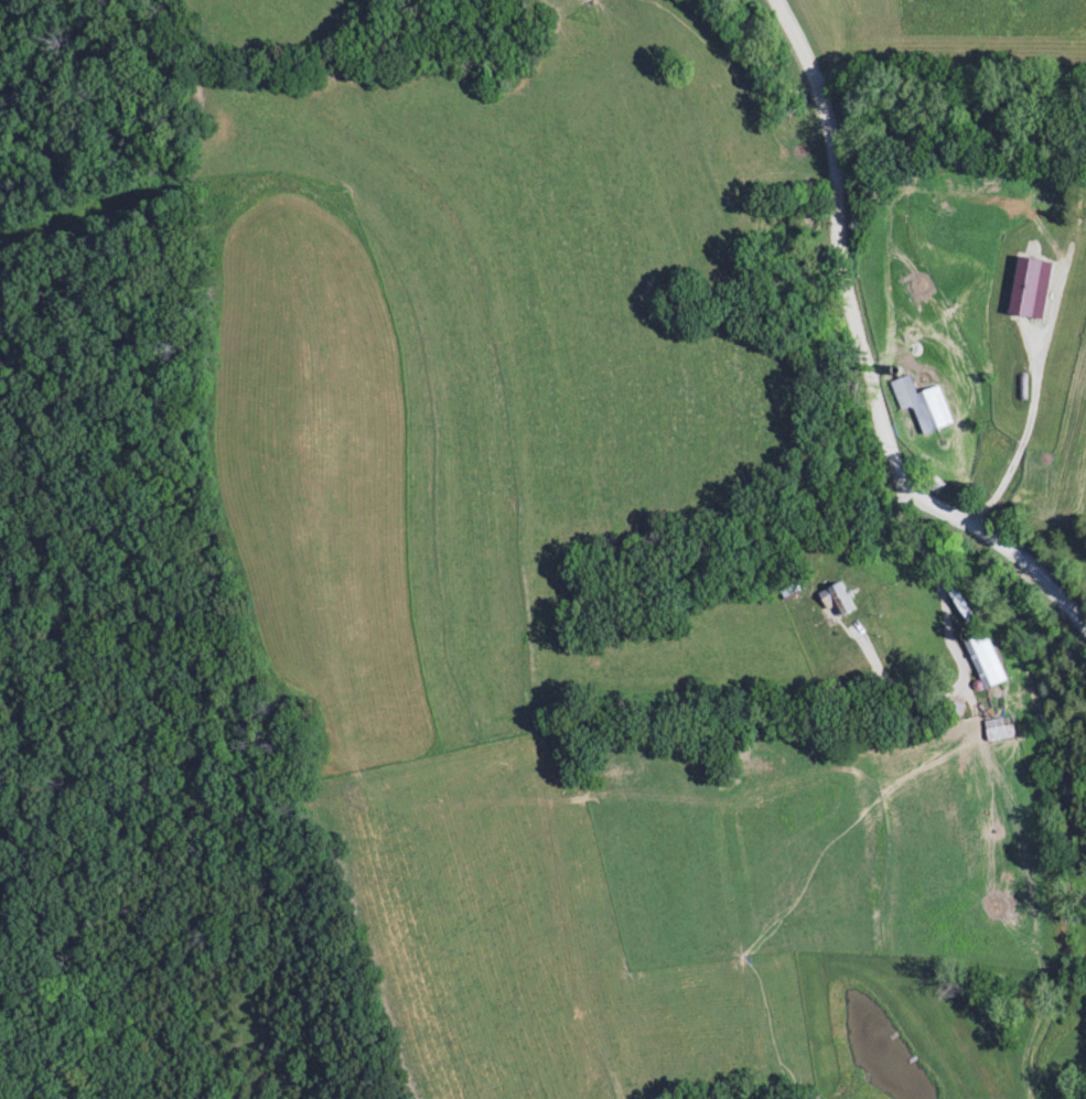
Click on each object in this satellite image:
road: (867, 352)
building: (920, 406)
building: (837, 601)
road: (951, 649)
building: (982, 661)
building: (850, 667)
building: (996, 731)

